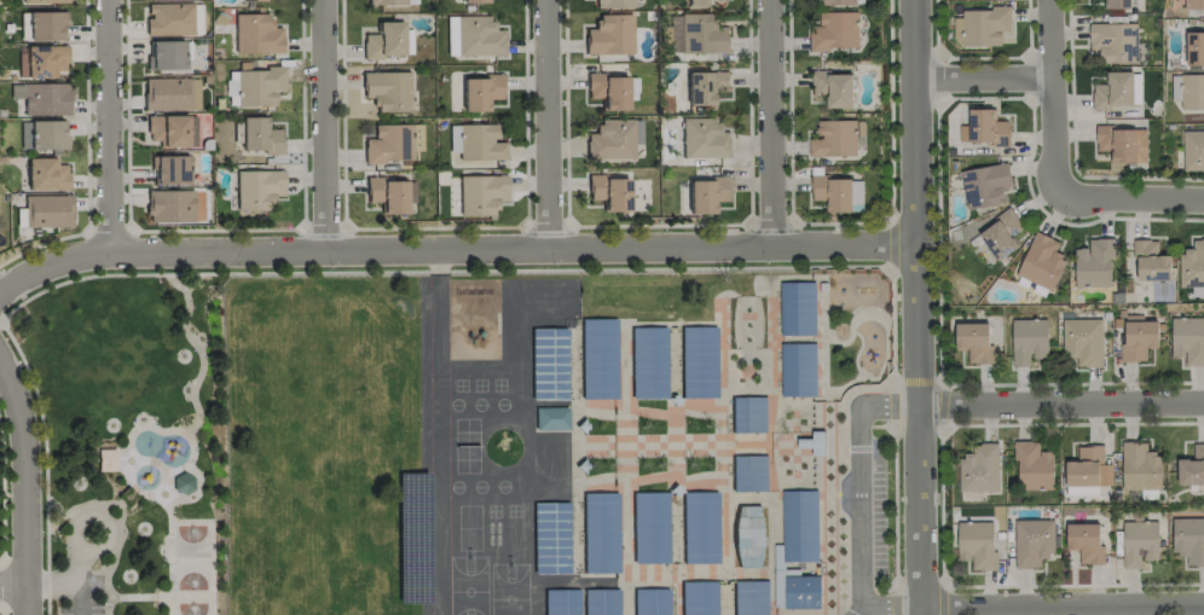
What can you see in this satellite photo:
building: (251, 0)
building: (46, 1)
building: (474, 1)
building: (387, 2)
building: (614, 2)
building: (699, 2)
building: (835, 2)
building: (1117, 4)
building: (1193, 4)
building: (168, 19)
building: (42, 25)
building: (980, 27)
building: (834, 31)
building: (696, 34)
building: (256, 35)
building: (451, 35)
building: (609, 35)
building: (477, 36)
building: (384, 41)
building: (1113, 42)
building: (1194, 47)
building: (166, 56)
building: (41, 60)
road: (988, 81)
building: (254, 87)
building: (705, 87)
building: (833, 88)
building: (387, 91)
building: (612, 91)
building: (1113, 91)
building: (170, 93)
building: (480, 93)
building: (1192, 93)
building: (42, 99)
road: (1055, 99)
road: (105, 124)
road: (324, 124)
road: (543, 126)
road: (766, 126)
building: (986, 128)
building: (172, 130)
building: (42, 135)
building: (260, 137)
building: (609, 139)
building: (704, 139)
building: (833, 139)
building: (390, 143)
building: (480, 143)
building: (1122, 144)
building: (1193, 151)
building: (170, 170)
building: (46, 174)
building: (984, 185)
building: (257, 188)
building: (609, 192)
building: (838, 193)
building: (388, 195)
building: (481, 195)
building: (707, 195)
road: (1129, 198)
building: (169, 207)
building: (47, 210)
building: (1002, 234)
road: (890, 243)
road: (455, 250)
building: (1041, 262)
building: (1151, 262)
building: (1094, 265)
building: (1192, 265)
road: (562, 269)
road: (103, 273)
road: (920, 307)
building: (795, 308)
building: (1138, 340)
building: (1187, 340)
building: (1028, 341)
building: (974, 342)
building: (1082, 342)
building: (597, 358)
building: (697, 361)
building: (548, 362)
building: (648, 362)
building: (798, 369)
road: (943, 381)
road: (1063, 405)
building: (747, 413)
building: (550, 418)
park: (131, 442)
building: (814, 443)
building: (1032, 466)
building: (1140, 468)
building: (1192, 468)
building: (979, 469)
building: (1088, 469)
road: (45, 471)
building: (748, 474)
building: (181, 483)
road: (22, 491)
building: (1086, 491)
road: (858, 505)
building: (799, 526)
building: (699, 527)
building: (649, 528)
building: (600, 532)
building: (748, 536)
building: (412, 538)
building: (549, 538)
building: (1188, 540)
building: (1032, 543)
building: (1084, 543)
building: (1139, 543)
building: (976, 544)
park: (190, 557)
road: (69, 579)
road: (11, 582)
park: (467, 585)
park: (509, 588)
road: (940, 593)
road: (1063, 597)
building: (697, 598)
building: (749, 598)
building: (560, 602)
building: (601, 602)
building: (649, 602)
park: (191, 607)

